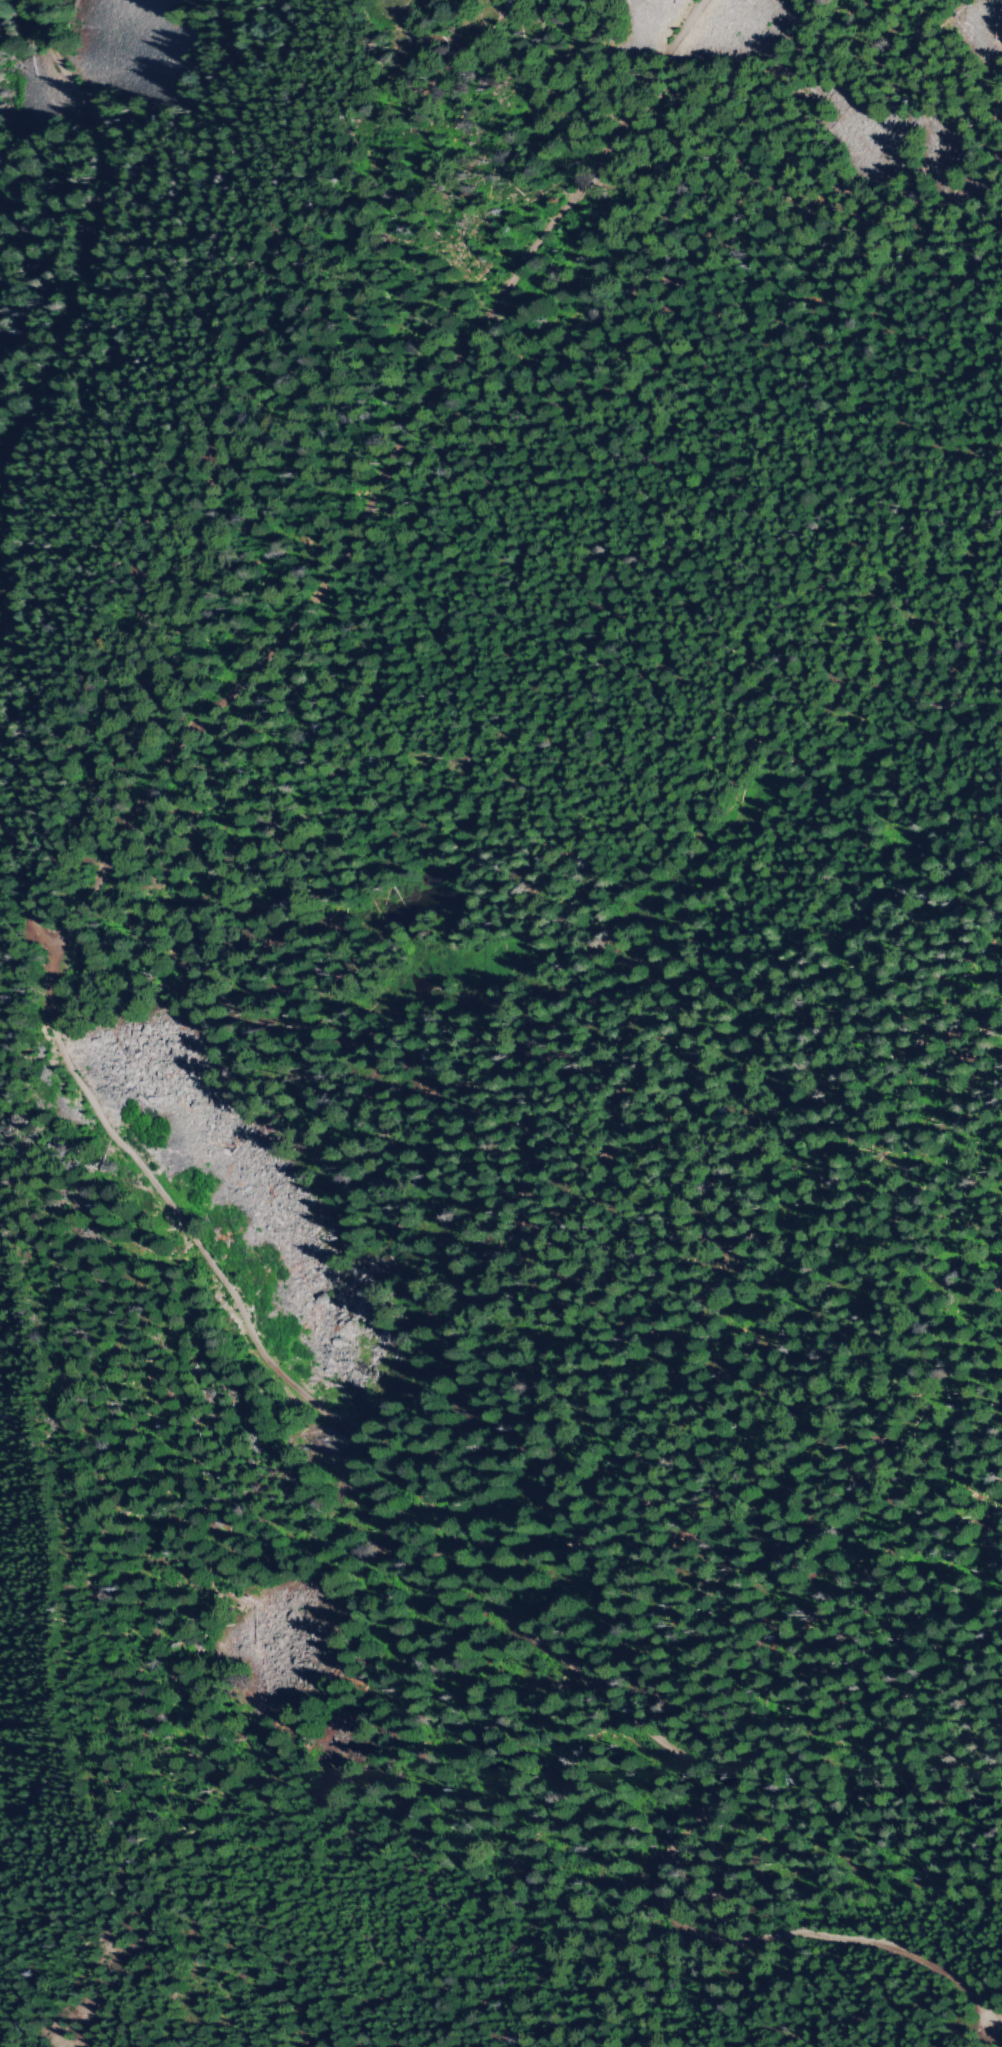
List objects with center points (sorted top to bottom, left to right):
road: (87, 241)
road: (205, 389)
road: (349, 534)
road: (445, 1195)
road: (490, 1588)

